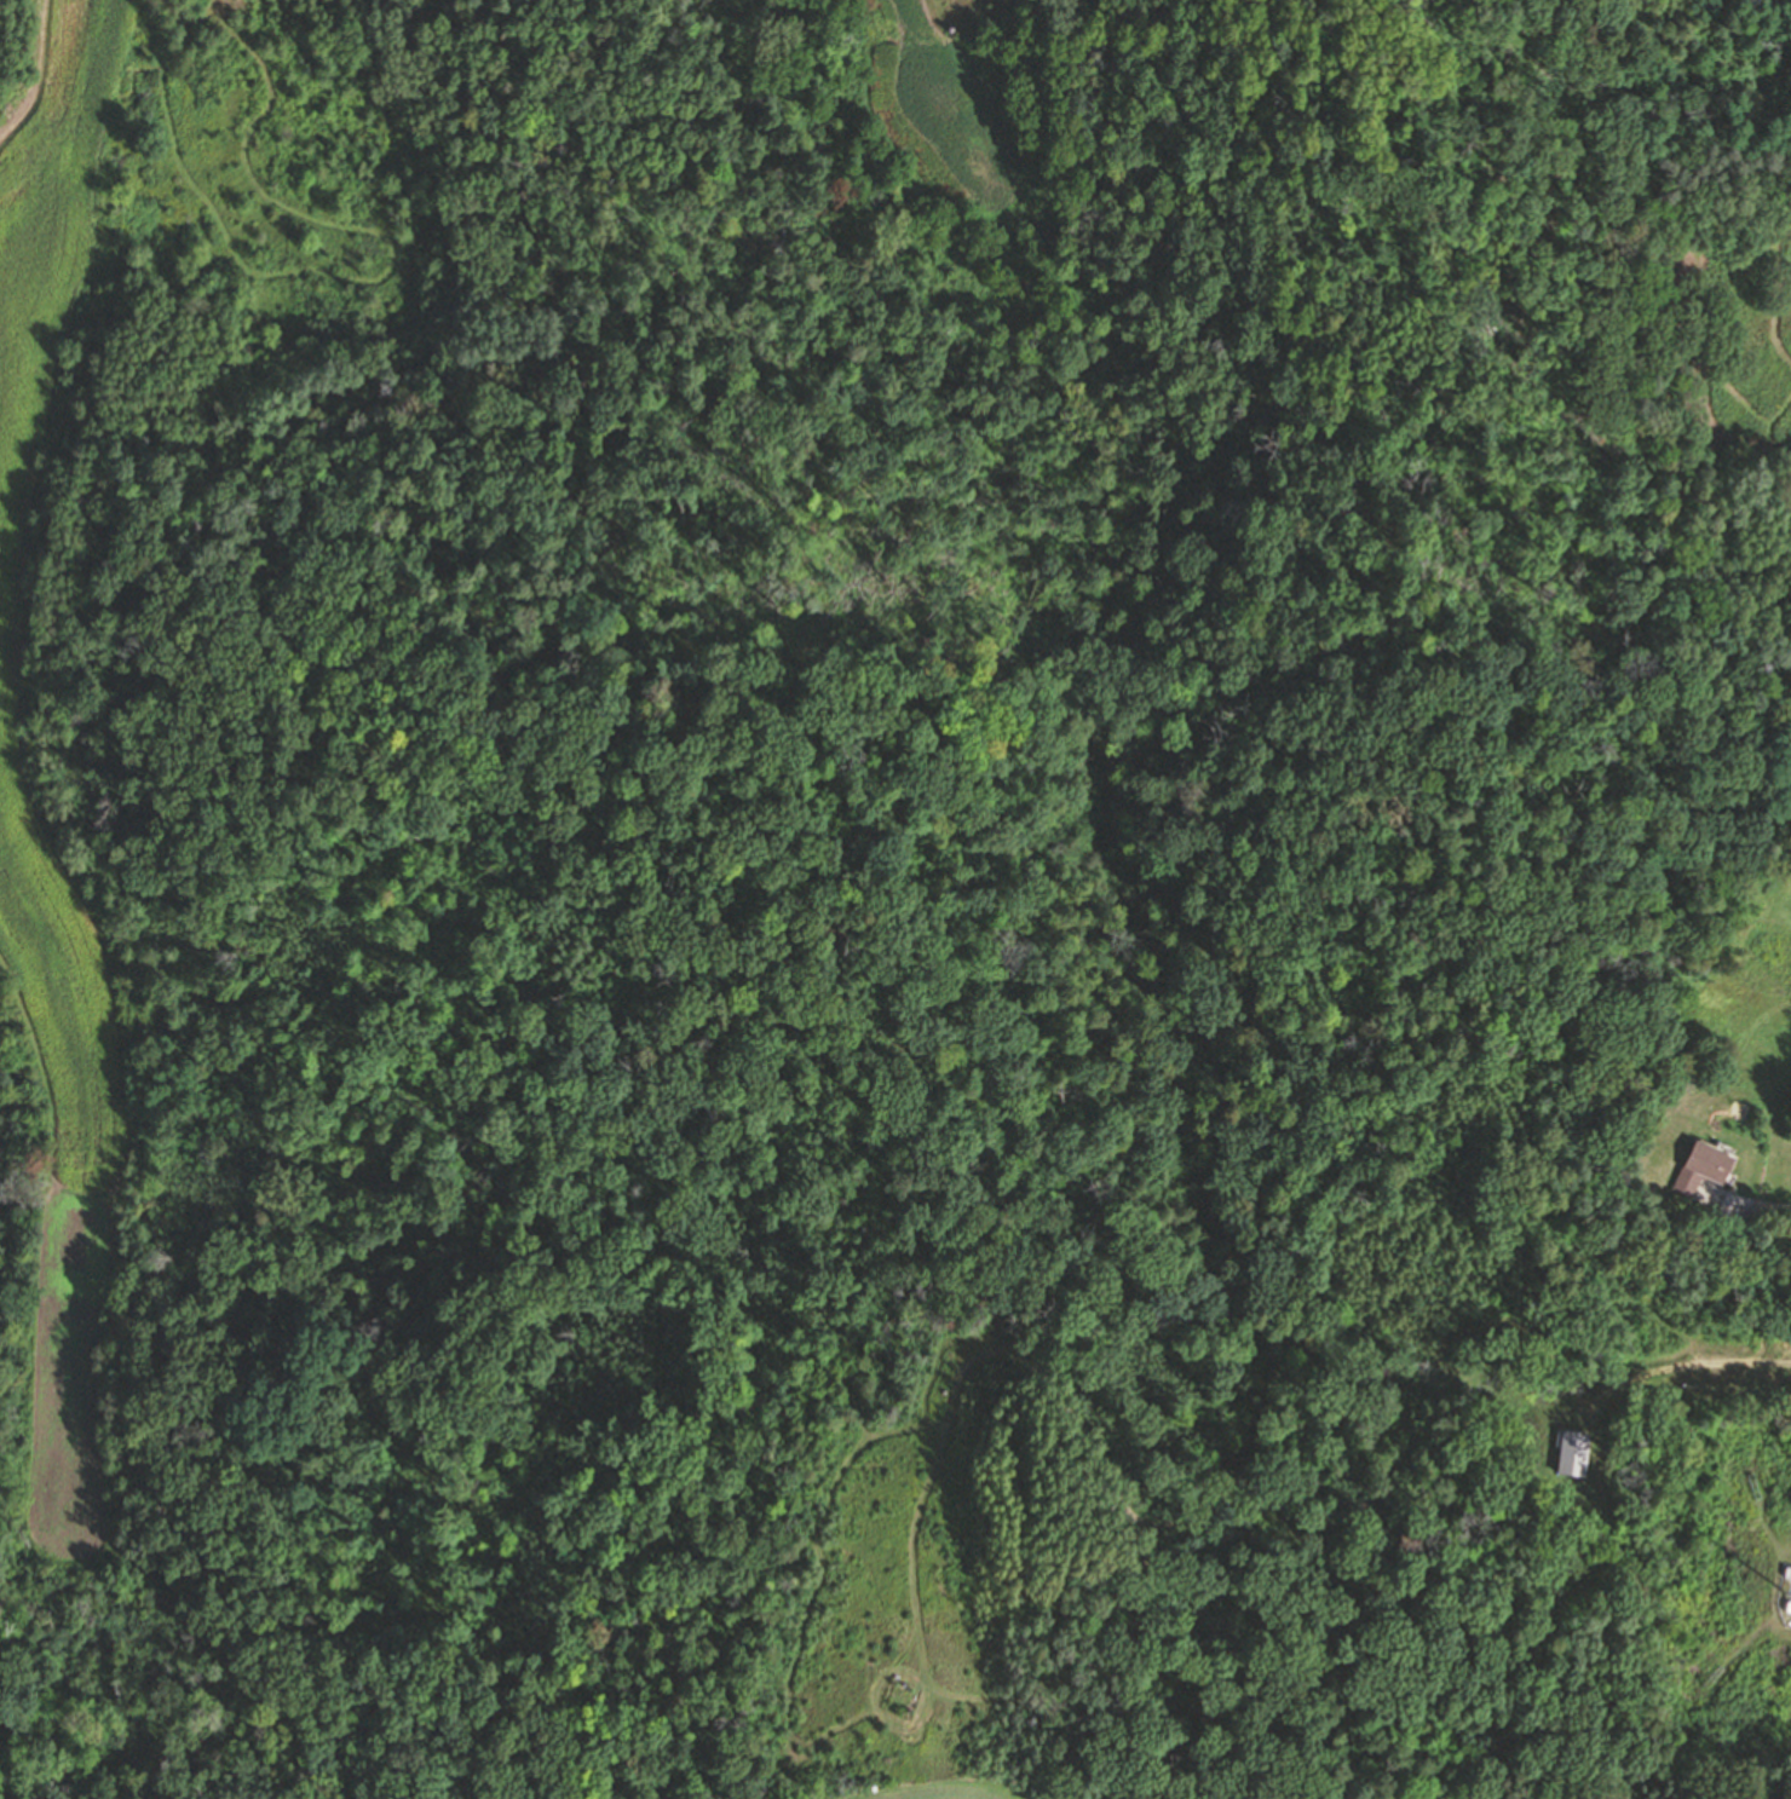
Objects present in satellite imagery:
building: (1701, 1167)
road: (1756, 1209)
building: (1787, 1572)

